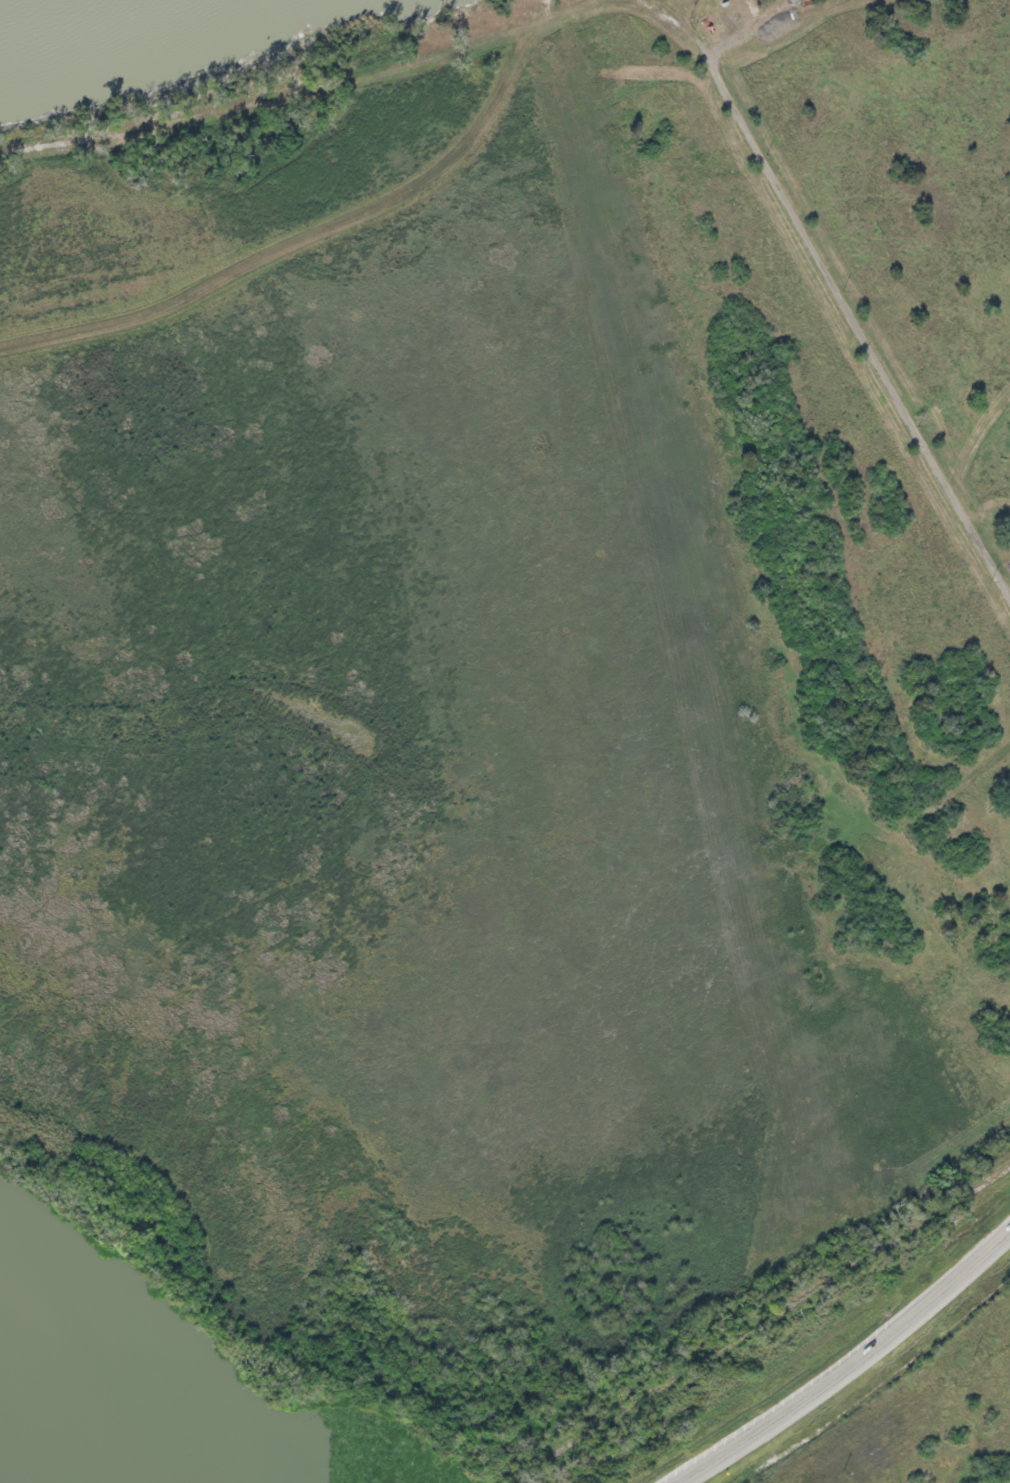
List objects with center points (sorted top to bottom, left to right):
road: (359, 212)
road: (831, 305)
road: (962, 394)
road: (850, 1366)

